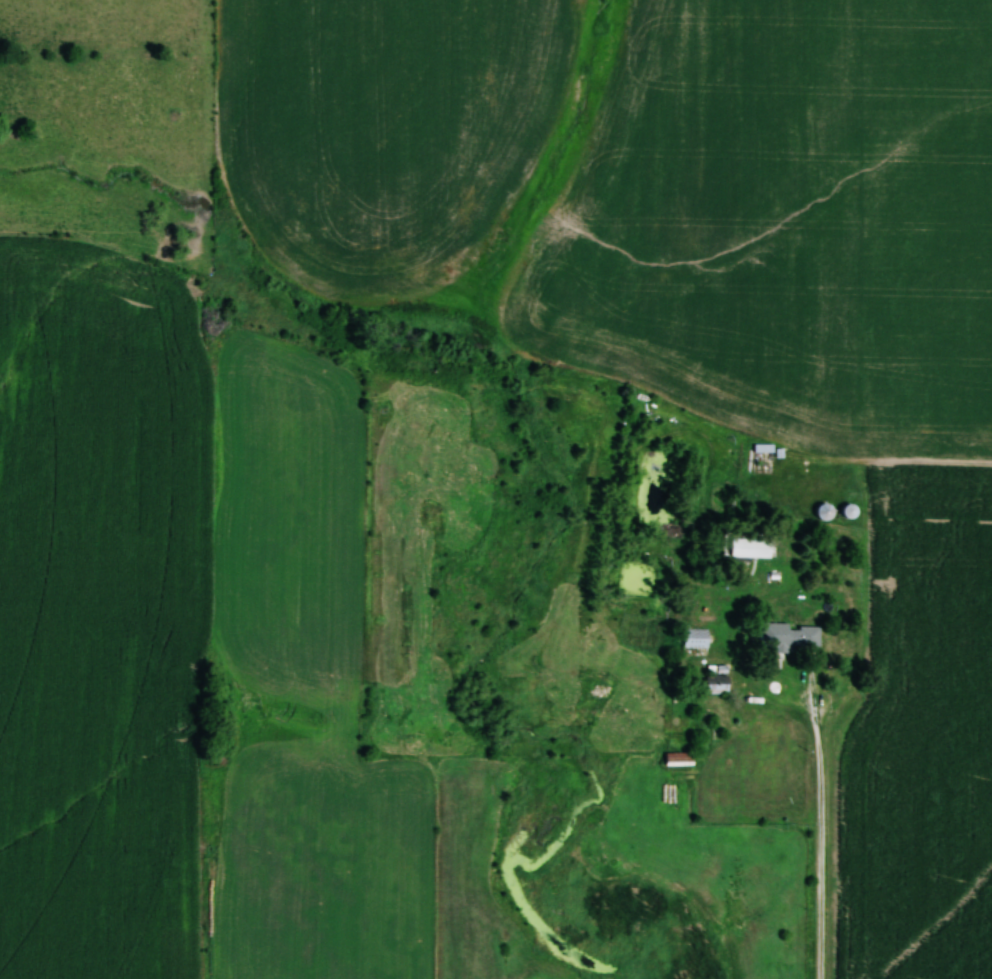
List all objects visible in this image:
building: (761, 447)
building: (820, 511)
building: (752, 548)
building: (787, 637)
building: (694, 638)
building: (712, 684)
building: (676, 759)
road: (821, 831)

